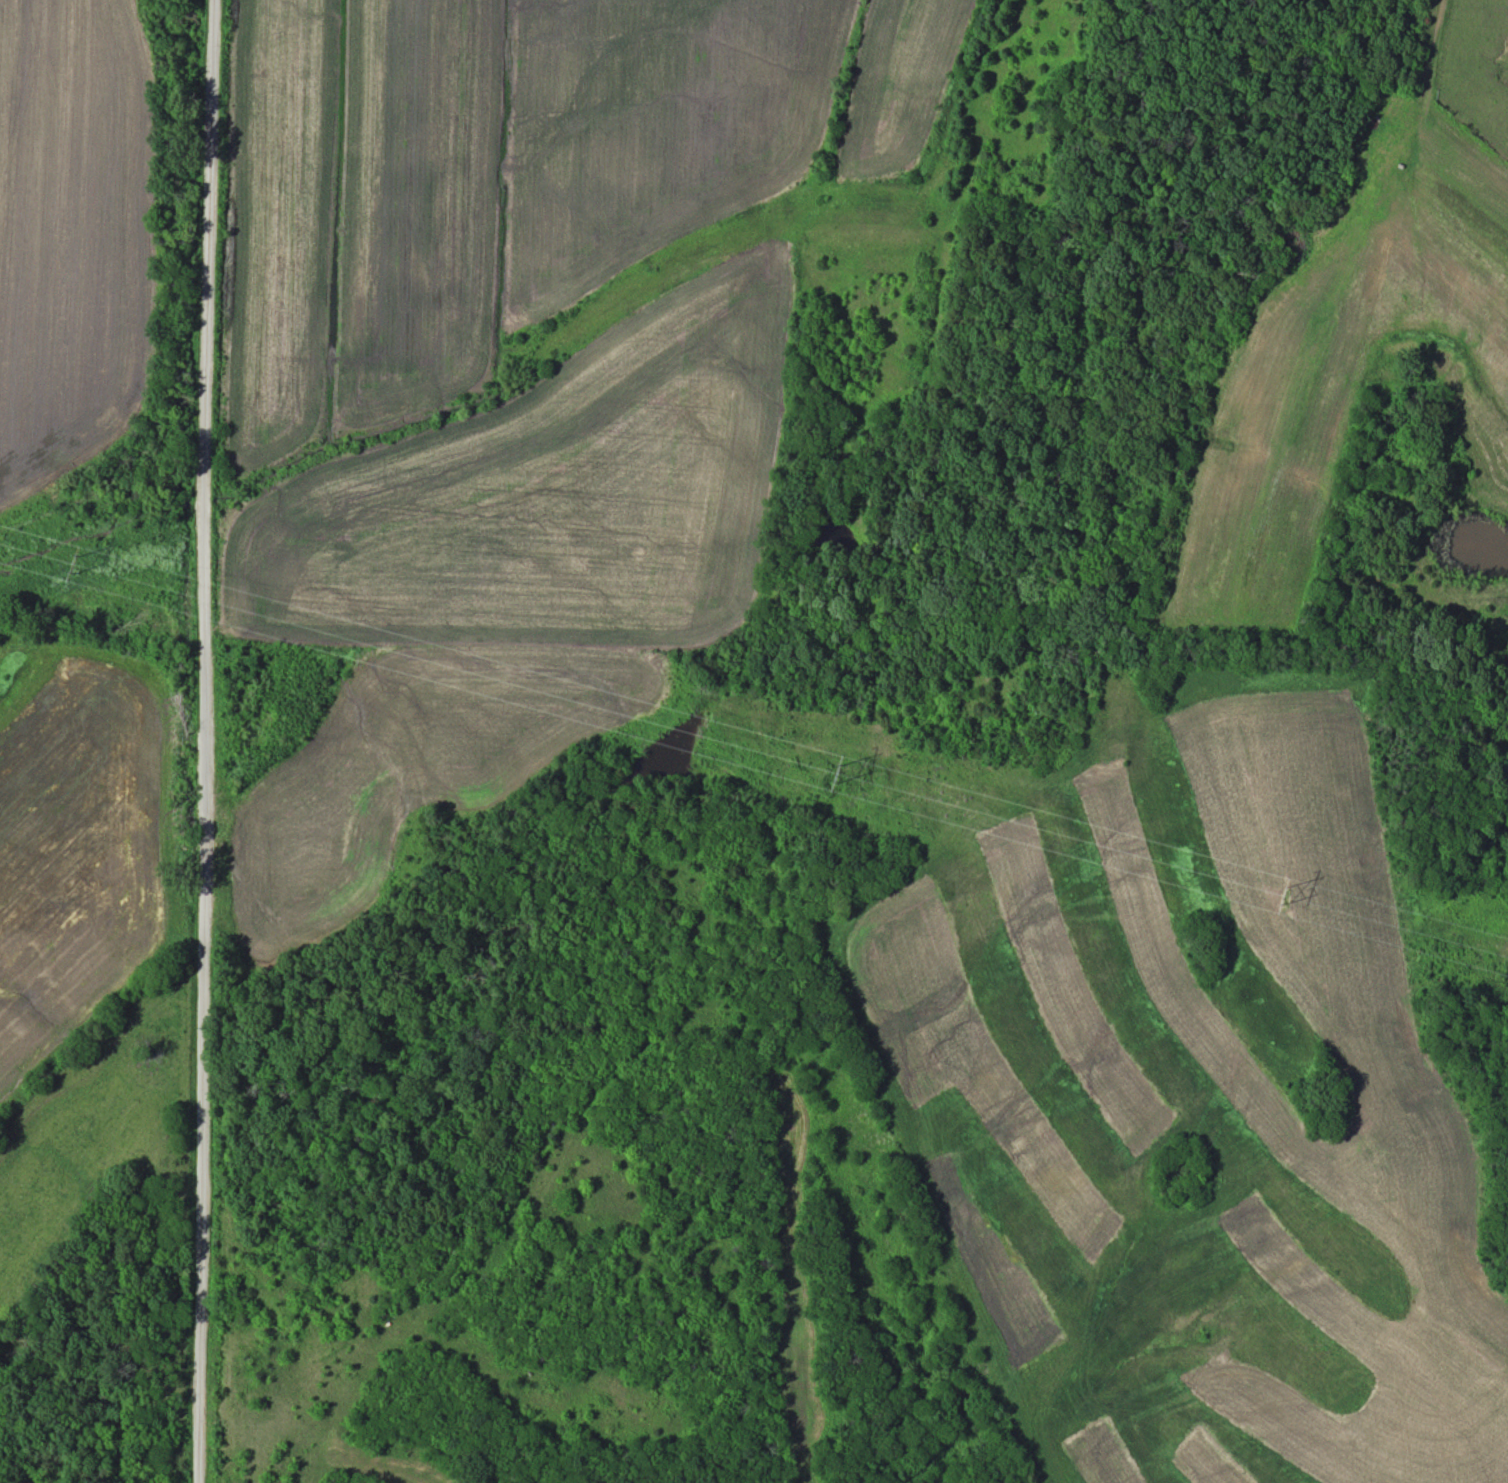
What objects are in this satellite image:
power tower: (71, 563)
road: (203, 741)
power tower: (874, 776)
power tower: (1348, 902)

